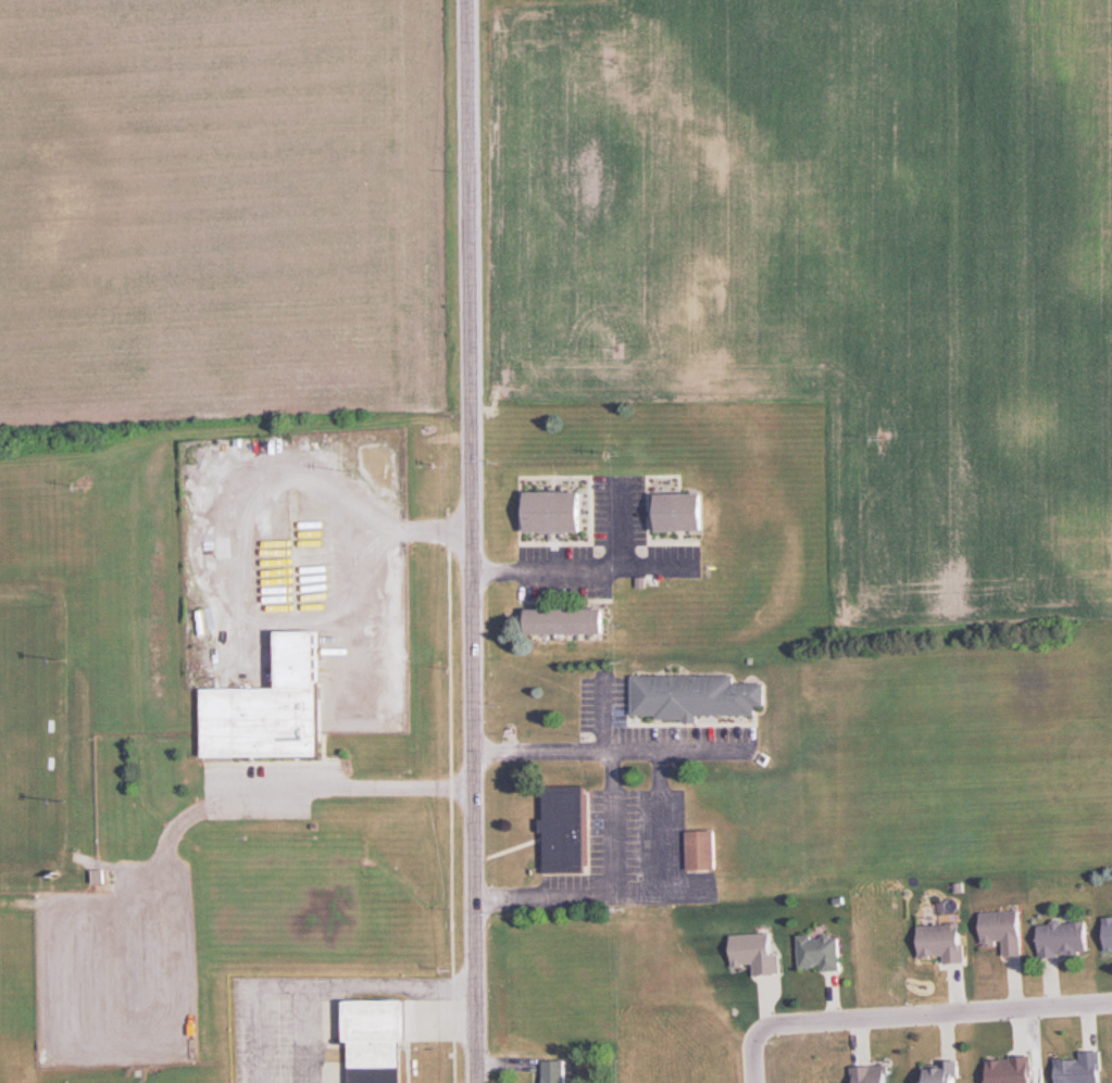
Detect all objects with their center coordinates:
building: (683, 509)
building: (555, 512)
road: (471, 541)
road: (348, 556)
road: (580, 563)
building: (569, 620)
building: (696, 695)
building: (272, 706)
park: (10, 719)
road: (614, 821)
building: (566, 829)
building: (703, 848)
building: (1003, 930)
building: (1109, 933)
building: (1064, 939)
building: (944, 942)
building: (758, 952)
building: (821, 952)
road: (935, 1013)
building: (378, 1040)
road: (750, 1054)
building: (1080, 1068)
building: (554, 1071)
building: (872, 1073)
building: (941, 1074)

